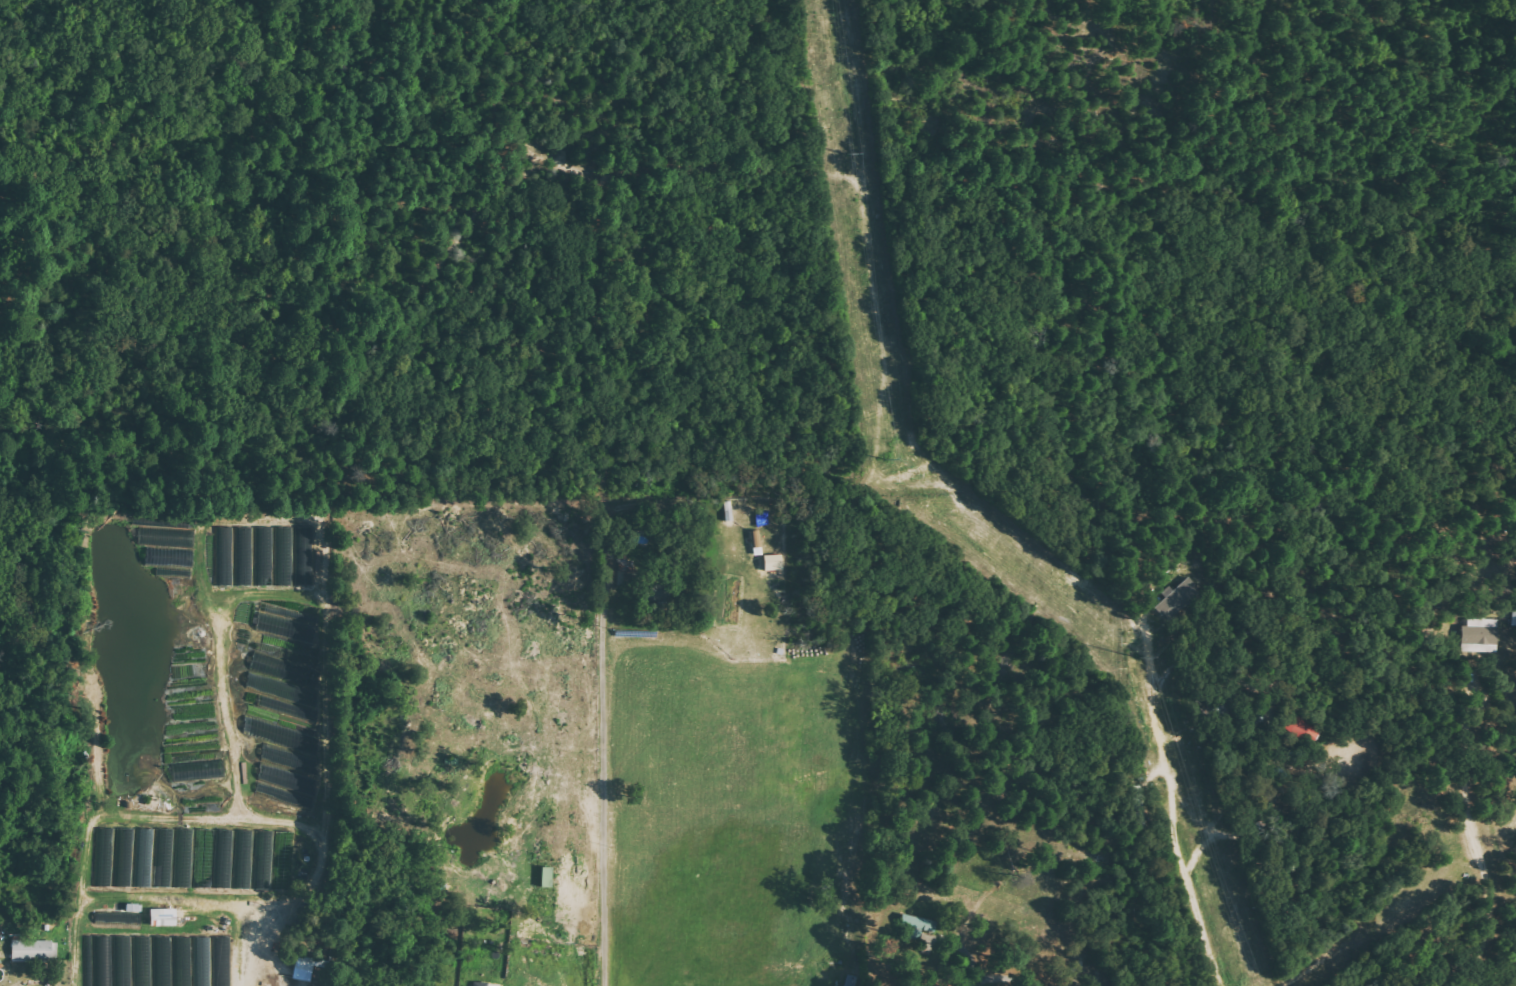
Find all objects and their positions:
building: (754, 542)
building: (167, 545)
building: (769, 562)
building: (1178, 600)
building: (284, 623)
building: (1479, 635)
building: (282, 682)
building: (284, 762)
building: (195, 770)
building: (194, 859)
building: (543, 877)
building: (119, 916)
building: (159, 916)
building: (913, 925)
building: (29, 950)
building: (158, 961)
building: (478, 984)

